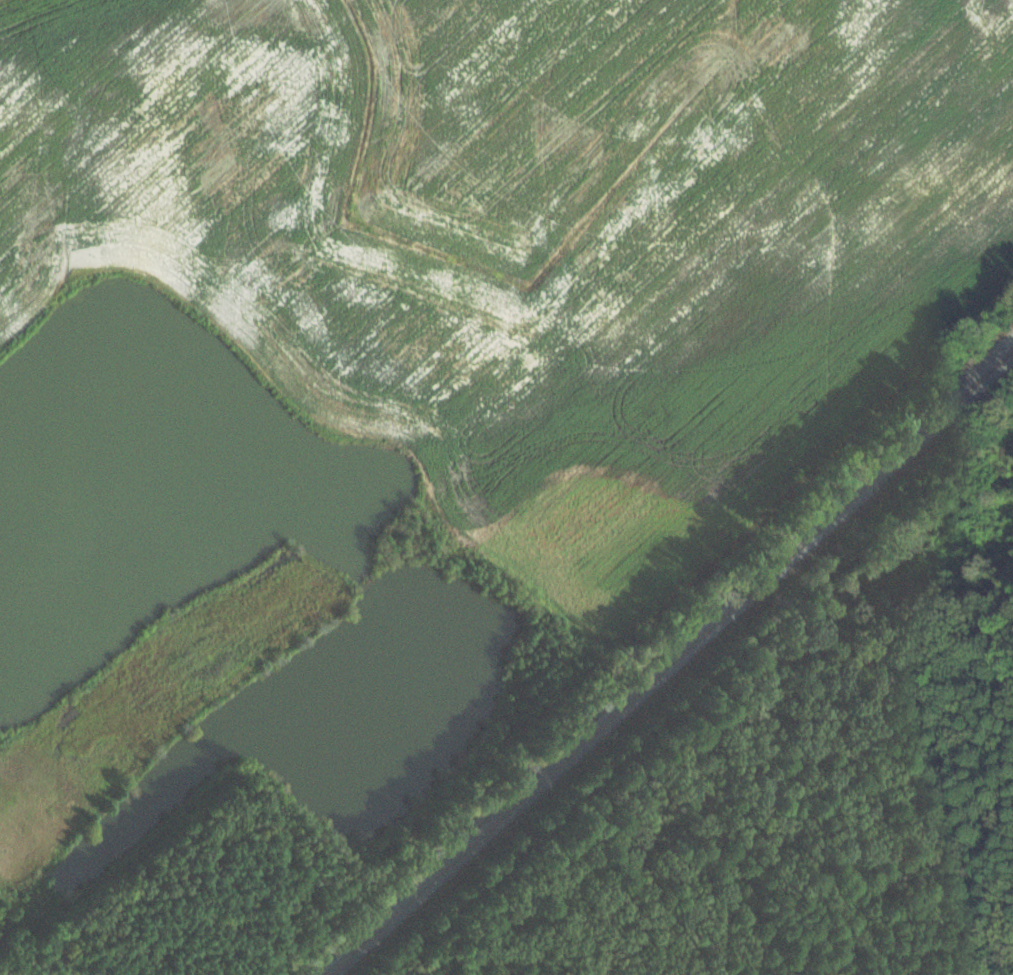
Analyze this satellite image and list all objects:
railway: (670, 662)

